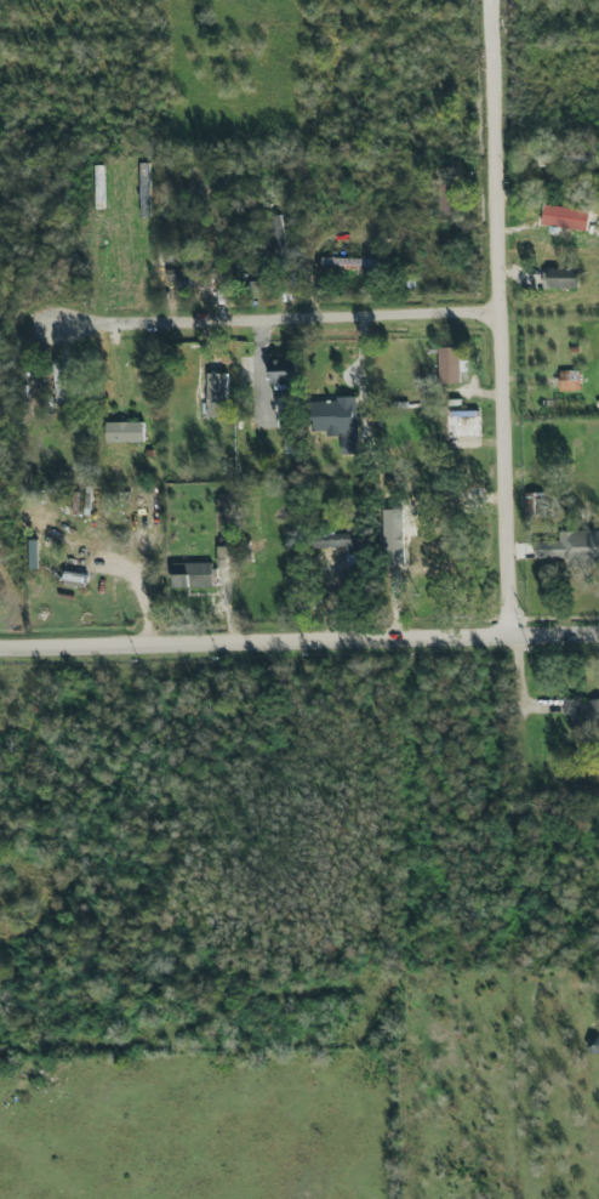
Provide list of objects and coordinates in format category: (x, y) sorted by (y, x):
road: (495, 80)
road: (549, 159)
building: (564, 159)
building: (146, 194)
building: (446, 195)
building: (565, 217)
building: (279, 239)
building: (348, 263)
building: (178, 274)
building: (560, 278)
road: (274, 316)
building: (450, 364)
building: (284, 370)
building: (569, 380)
building: (58, 381)
building: (217, 394)
road: (509, 399)
building: (283, 410)
building: (341, 422)
building: (125, 432)
building: (534, 504)
building: (347, 547)
building: (572, 549)
building: (228, 557)
building: (432, 559)
building: (193, 574)
road: (299, 643)
building: (581, 714)

